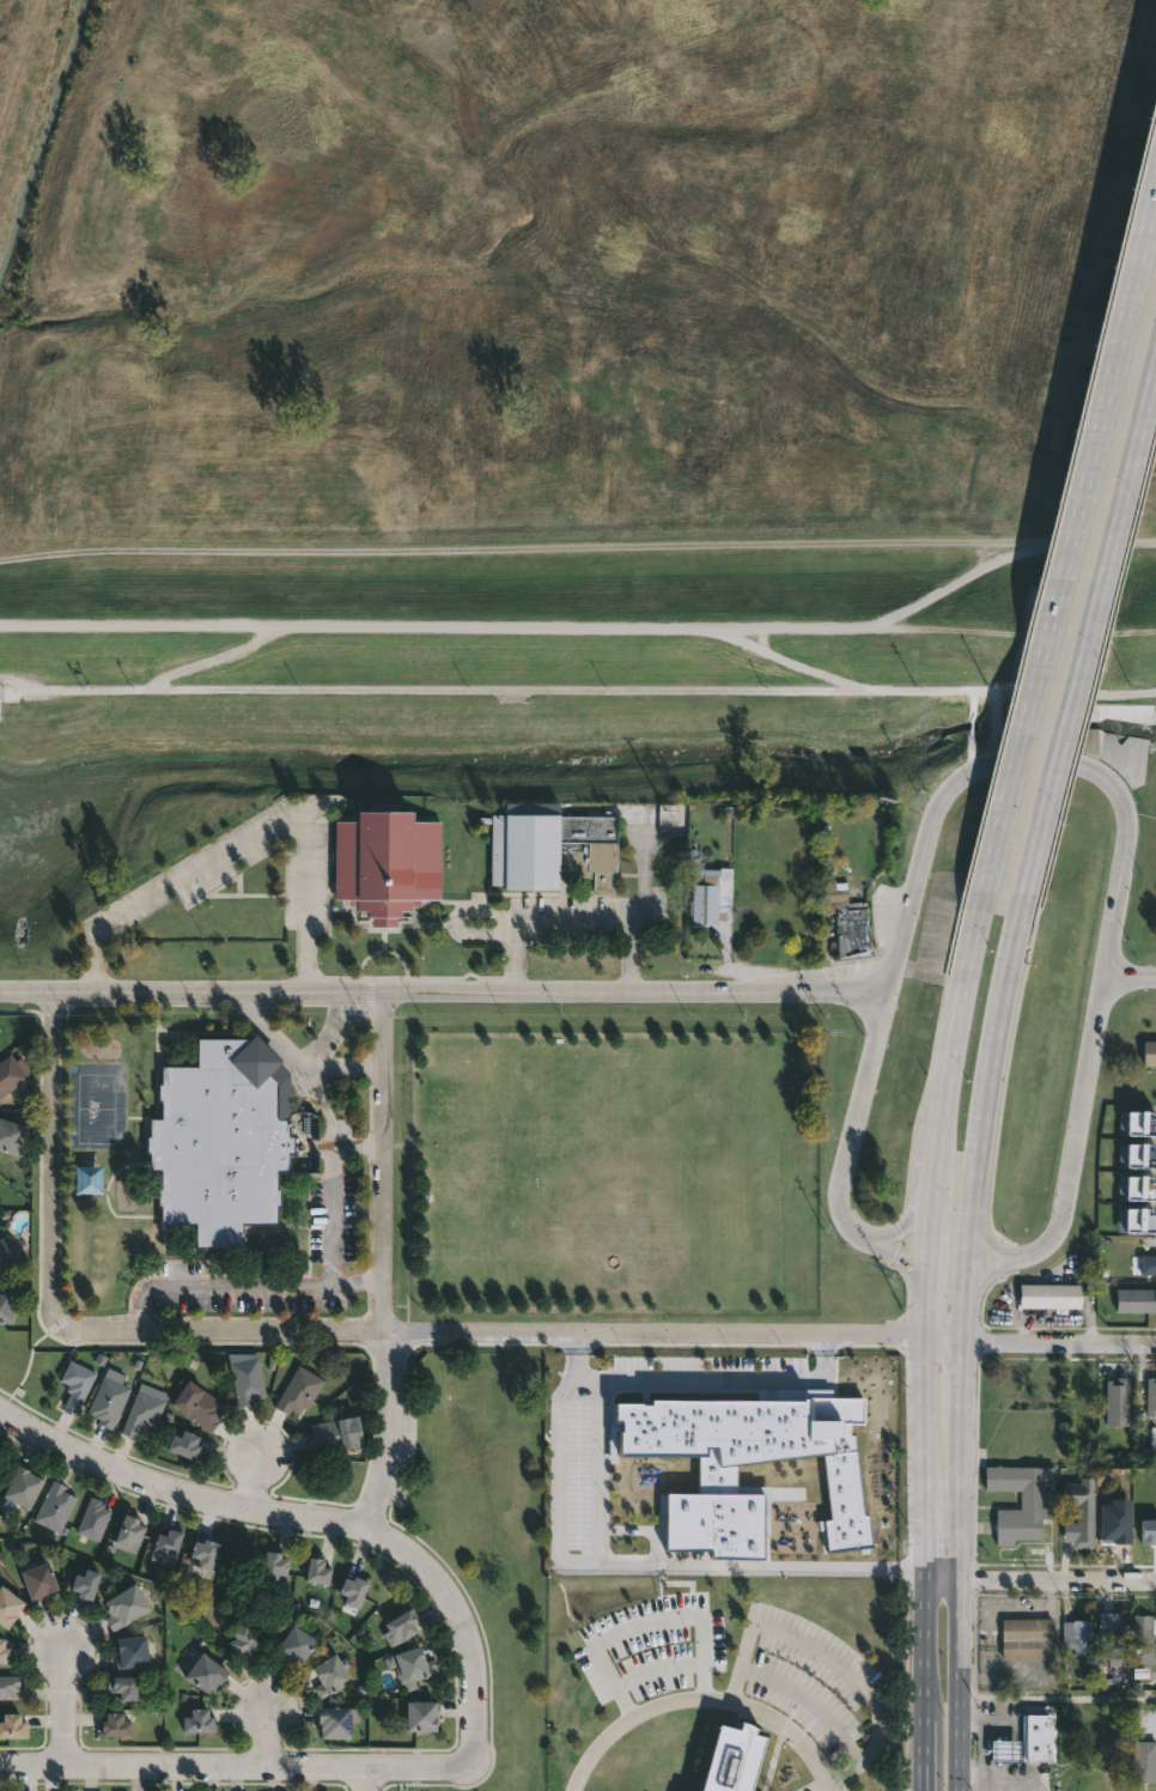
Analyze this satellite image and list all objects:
park: (570, 405)
road: (1069, 541)
road: (577, 547)
road: (949, 583)
road: (433, 626)
road: (1088, 638)
road: (777, 656)
road: (212, 657)
road: (535, 690)
road: (1075, 692)
road: (1023, 770)
road: (248, 845)
building: (549, 846)
building: (384, 863)
building: (797, 866)
building: (713, 899)
building: (756, 907)
building: (807, 913)
building: (859, 922)
road: (1131, 973)
road: (449, 992)
road: (956, 1033)
building: (1151, 1052)
road: (297, 1058)
building: (10, 1074)
road: (986, 1100)
road: (864, 1118)
building: (1137, 1121)
road: (1077, 1130)
building: (10, 1135)
building: (229, 1140)
building: (1138, 1153)
road: (54, 1161)
building: (87, 1178)
road: (930, 1184)
building: (1138, 1184)
building: (1137, 1219)
road: (901, 1230)
road: (924, 1239)
road: (988, 1241)
building: (8, 1255)
road: (895, 1256)
building: (1149, 1264)
road: (384, 1265)
road: (988, 1270)
road: (357, 1282)
road: (310, 1286)
building: (1052, 1295)
building: (1137, 1298)
road: (920, 1305)
building: (6, 1309)
road: (965, 1311)
park: (644, 1315)
road: (487, 1334)
road: (942, 1340)
road: (1059, 1342)
road: (578, 1343)
road: (823, 1346)
building: (248, 1380)
building: (77, 1383)
building: (299, 1390)
building: (1152, 1396)
building: (1120, 1398)
building: (108, 1401)
building: (197, 1403)
building: (142, 1413)
road: (923, 1417)
building: (331, 1434)
building: (187, 1445)
road: (961, 1457)
road: (597, 1476)
road: (254, 1479)
building: (717, 1480)
building: (24, 1488)
building: (1021, 1500)
building: (55, 1510)
building: (1082, 1513)
building: (1119, 1518)
building: (93, 1519)
road: (314, 1524)
road: (641, 1528)
building: (1150, 1528)
building: (128, 1529)
road: (924, 1532)
building: (1118, 1540)
building: (168, 1542)
building: (203, 1554)
building: (273, 1564)
road: (747, 1565)
road: (911, 1568)
building: (317, 1570)
road: (1039, 1574)
building: (41, 1580)
building: (84, 1585)
building: (353, 1590)
building: (7, 1607)
building: (126, 1607)
building: (759, 1619)
building: (403, 1623)
road: (646, 1623)
building: (1142, 1628)
building: (1109, 1632)
building: (1077, 1634)
building: (1026, 1639)
building: (245, 1643)
building: (296, 1646)
parking lot: (653, 1646)
building: (4, 1652)
building: (130, 1652)
road: (828, 1658)
building: (415, 1664)
road: (657, 1669)
building: (207, 1674)
building: (331, 1675)
road: (925, 1680)
road: (959, 1682)
parking lot: (813, 1683)
building: (8, 1687)
building: (126, 1688)
road: (1057, 1696)
road: (705, 1700)
road: (811, 1702)
road: (65, 1705)
building: (424, 1717)
road: (984, 1718)
building: (200, 1722)
building: (336, 1724)
building: (116, 1725)
building: (13, 1728)
road: (267, 1737)
building: (1003, 1747)
gas station: (1003, 1747)
building: (1036, 1748)
building: (732, 1759)
building: (1143, 1760)
road: (237, 1766)
road: (1006, 1775)
road: (365, 1779)
road: (999, 1783)

